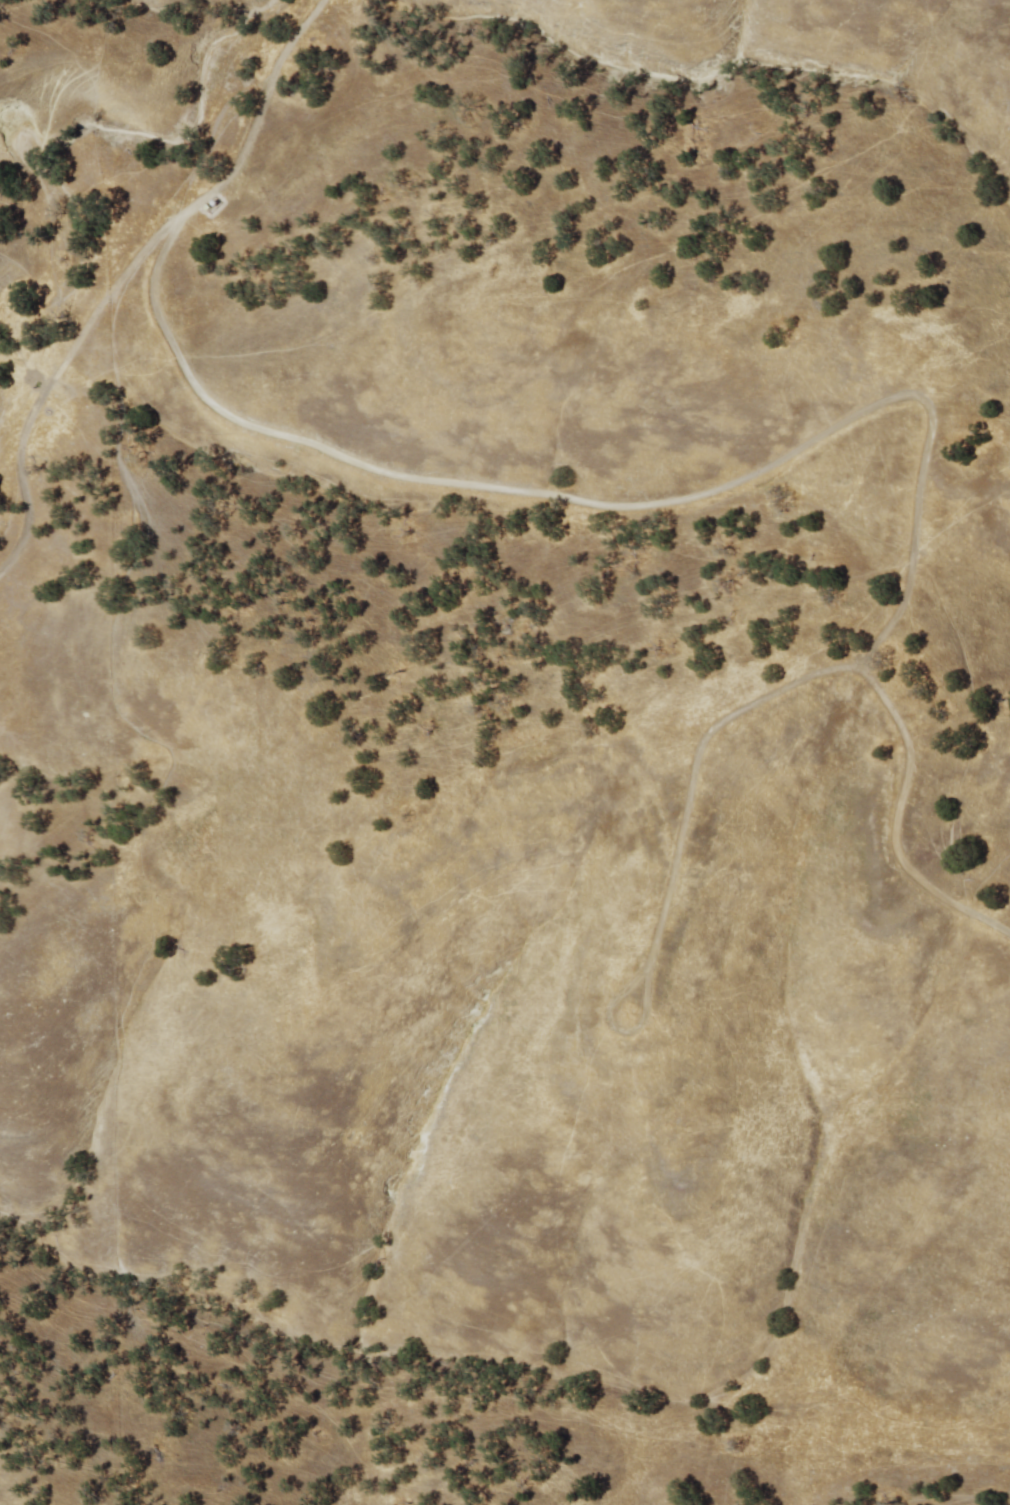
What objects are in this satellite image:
storage tank: (216, 204)
road: (130, 272)

